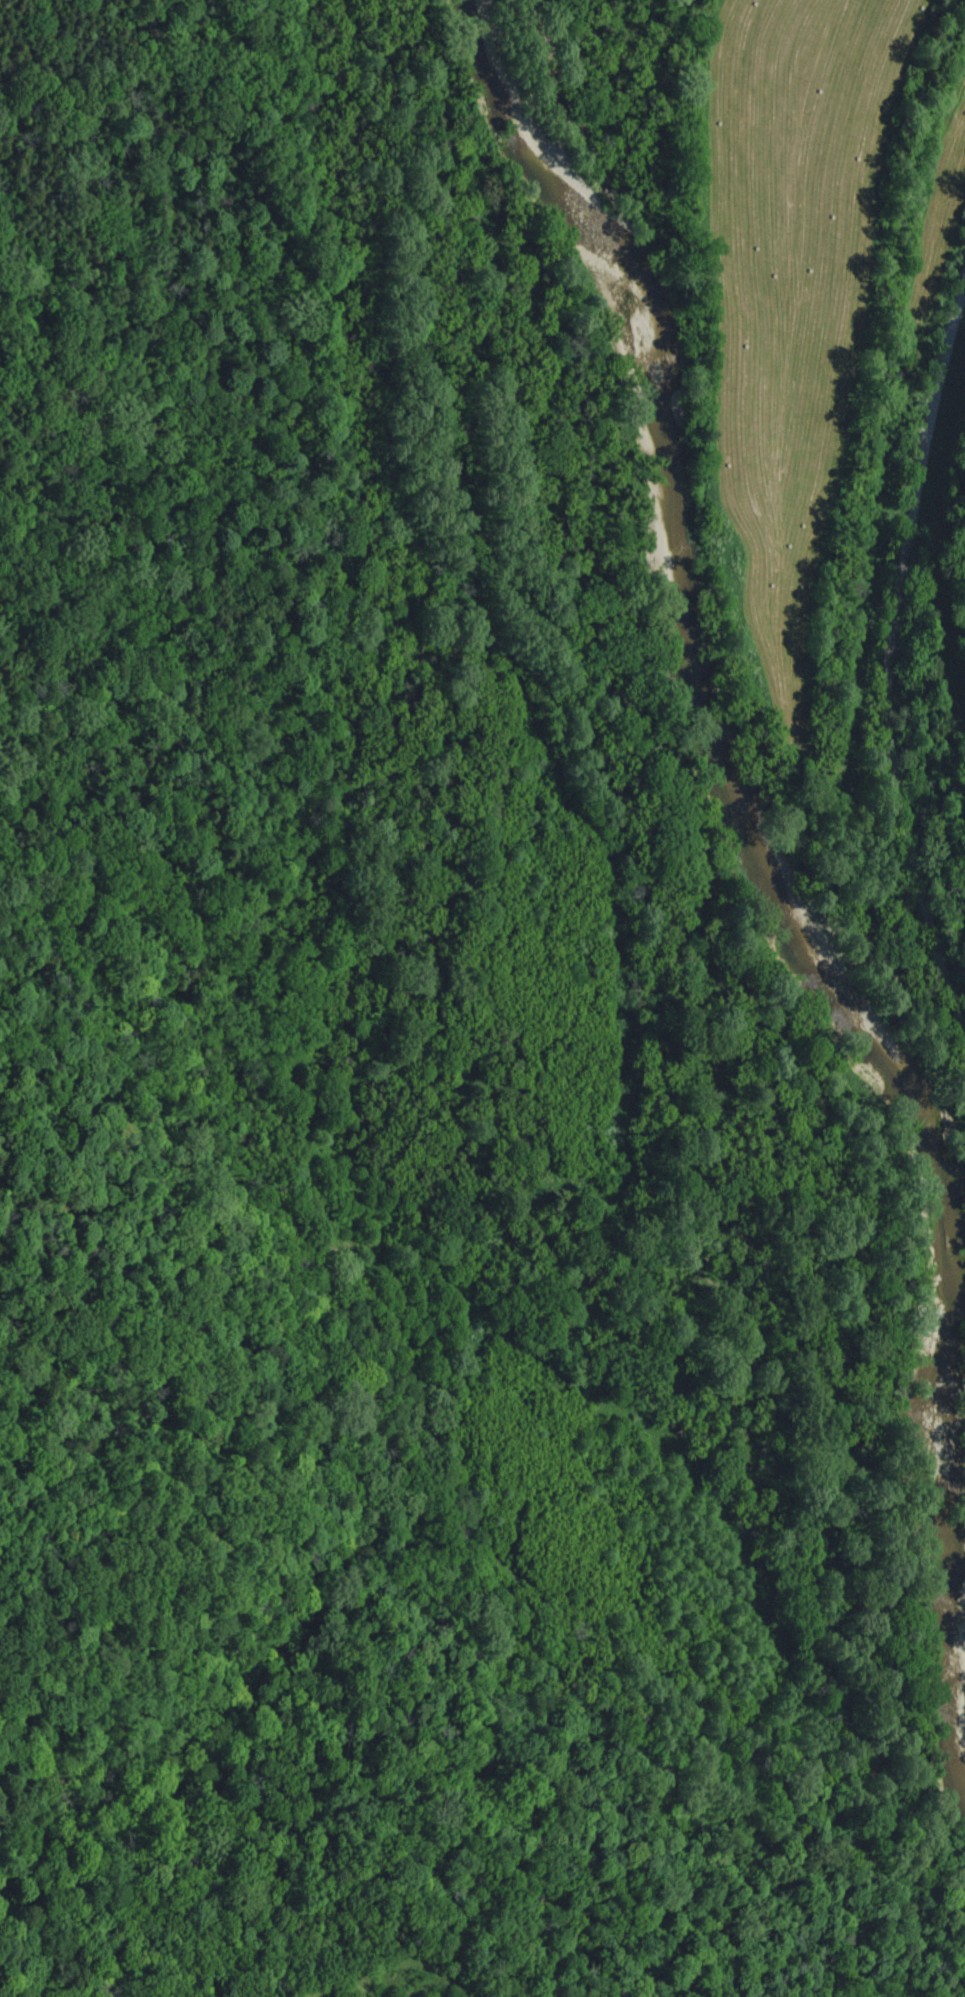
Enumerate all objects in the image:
road: (897, 654)
river: (748, 815)

